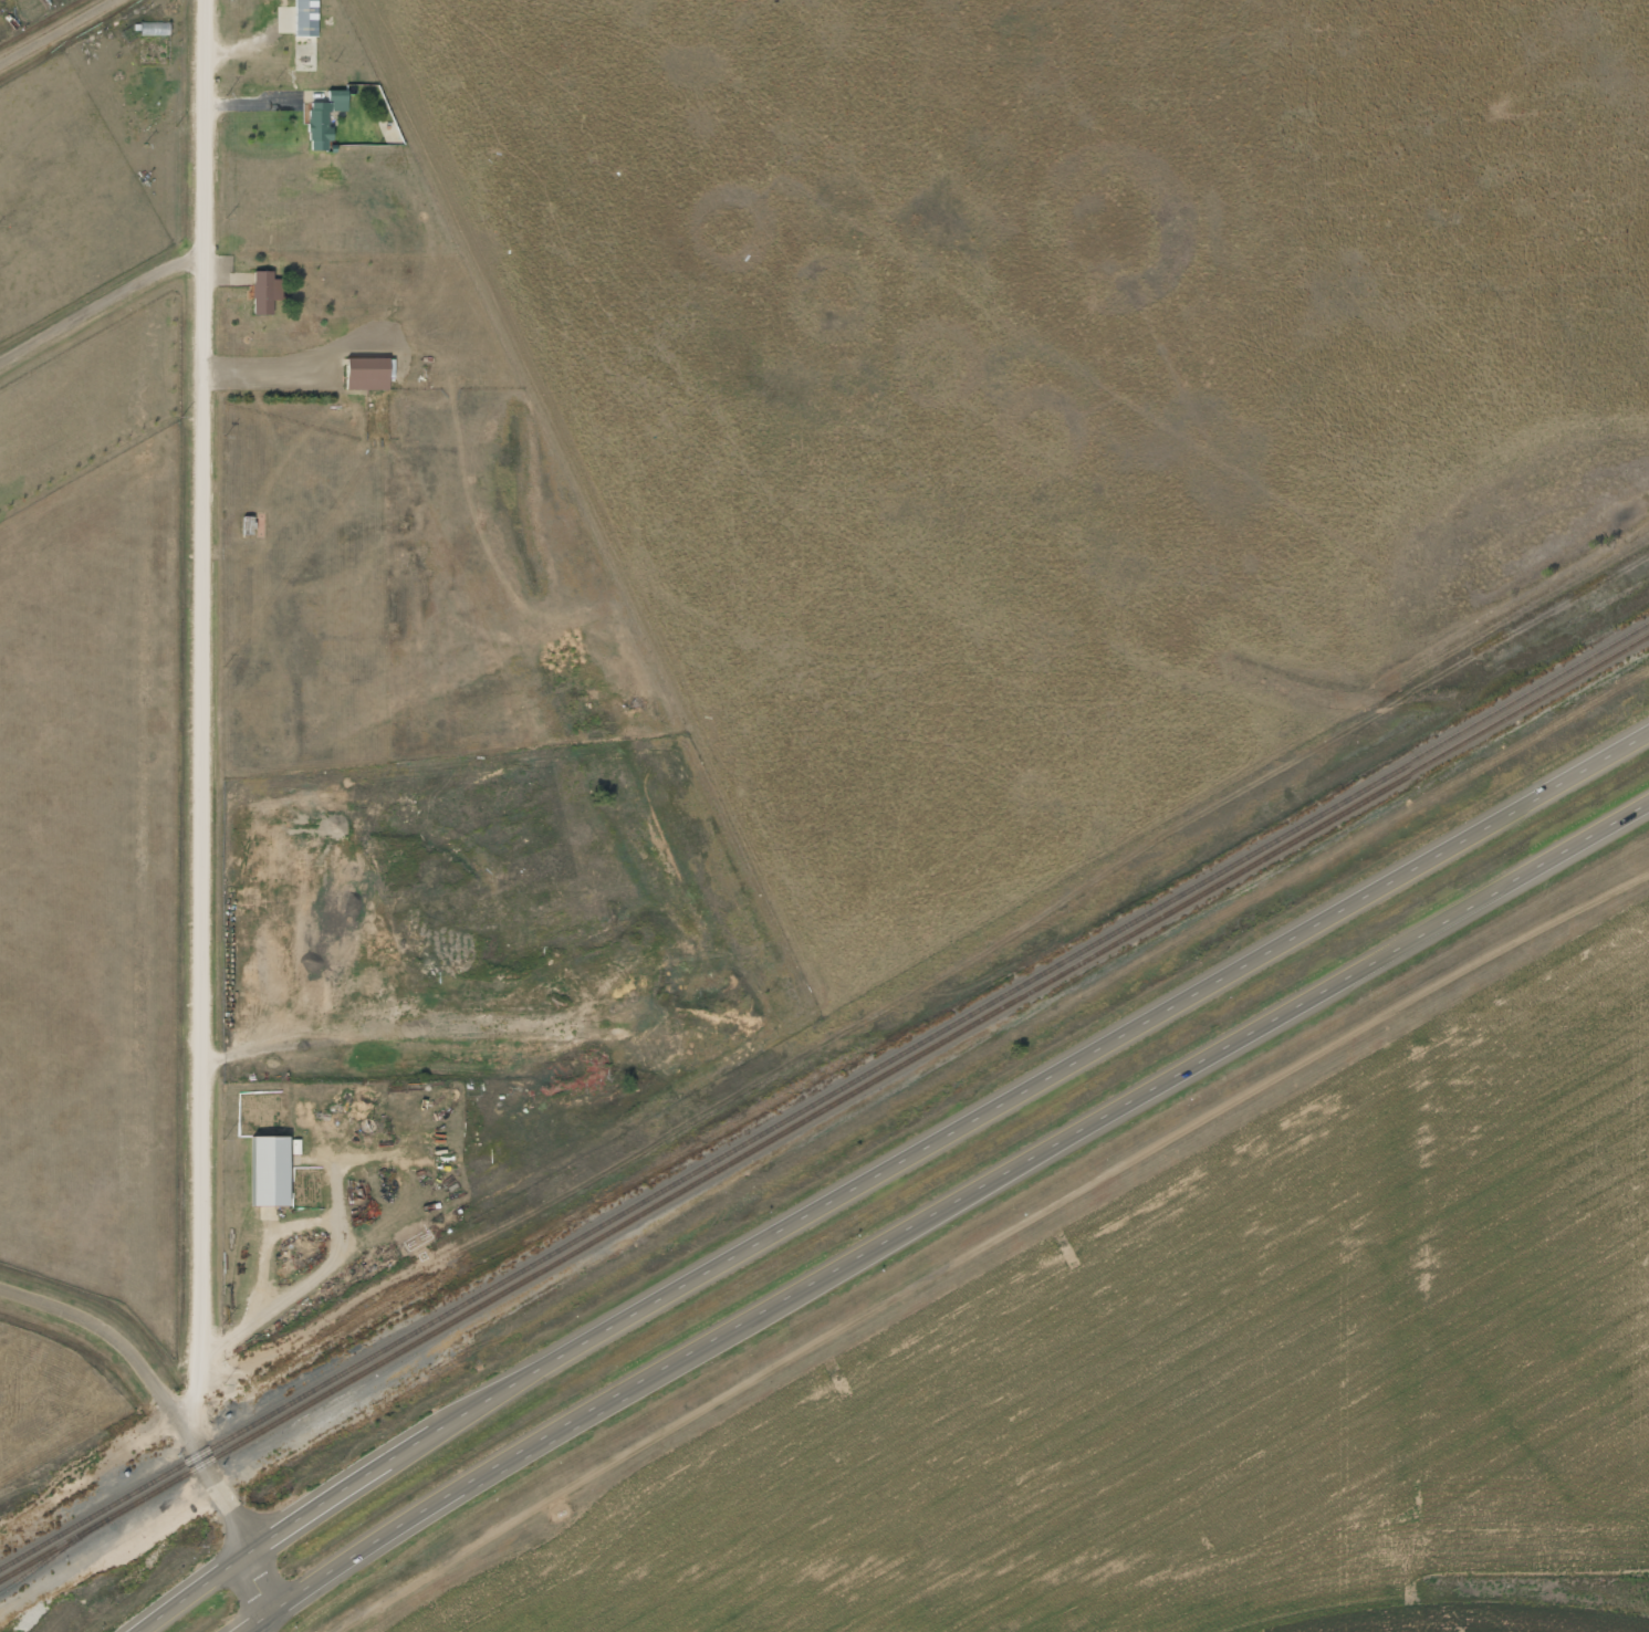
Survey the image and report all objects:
building: (304, 10)
building: (152, 18)
road: (53, 30)
building: (322, 103)
building: (260, 278)
road: (96, 307)
building: (365, 359)
road: (199, 714)
railway: (824, 1096)
railway: (824, 1106)
building: (269, 1155)
road: (886, 1173)
road: (940, 1211)
road: (113, 1331)
road: (221, 1489)
railway: (52, 1553)
road: (265, 1592)

